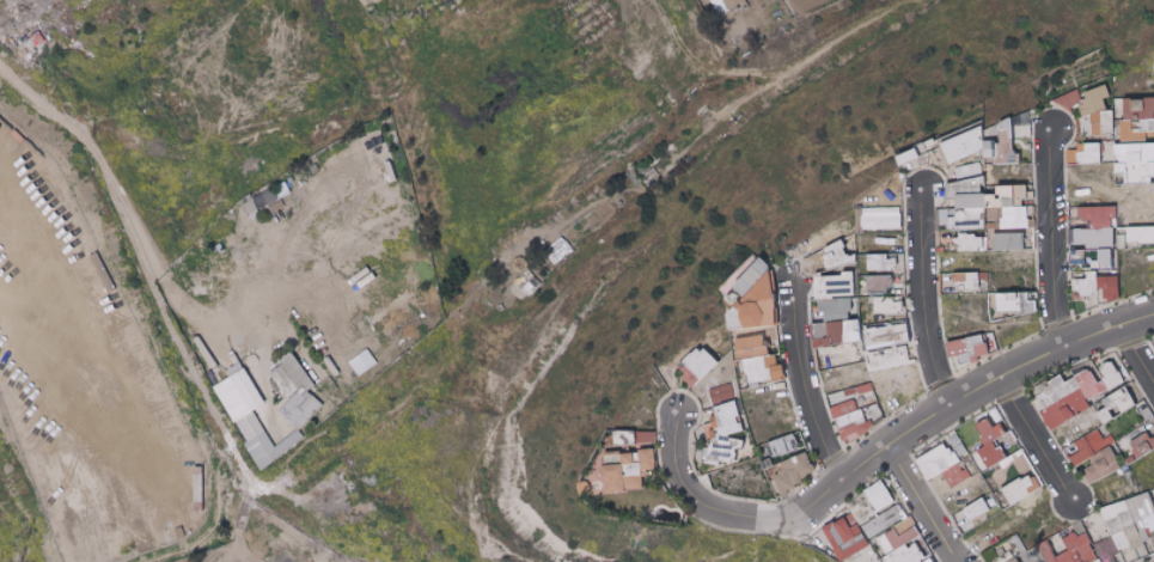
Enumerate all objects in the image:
crop: (807, 4)

